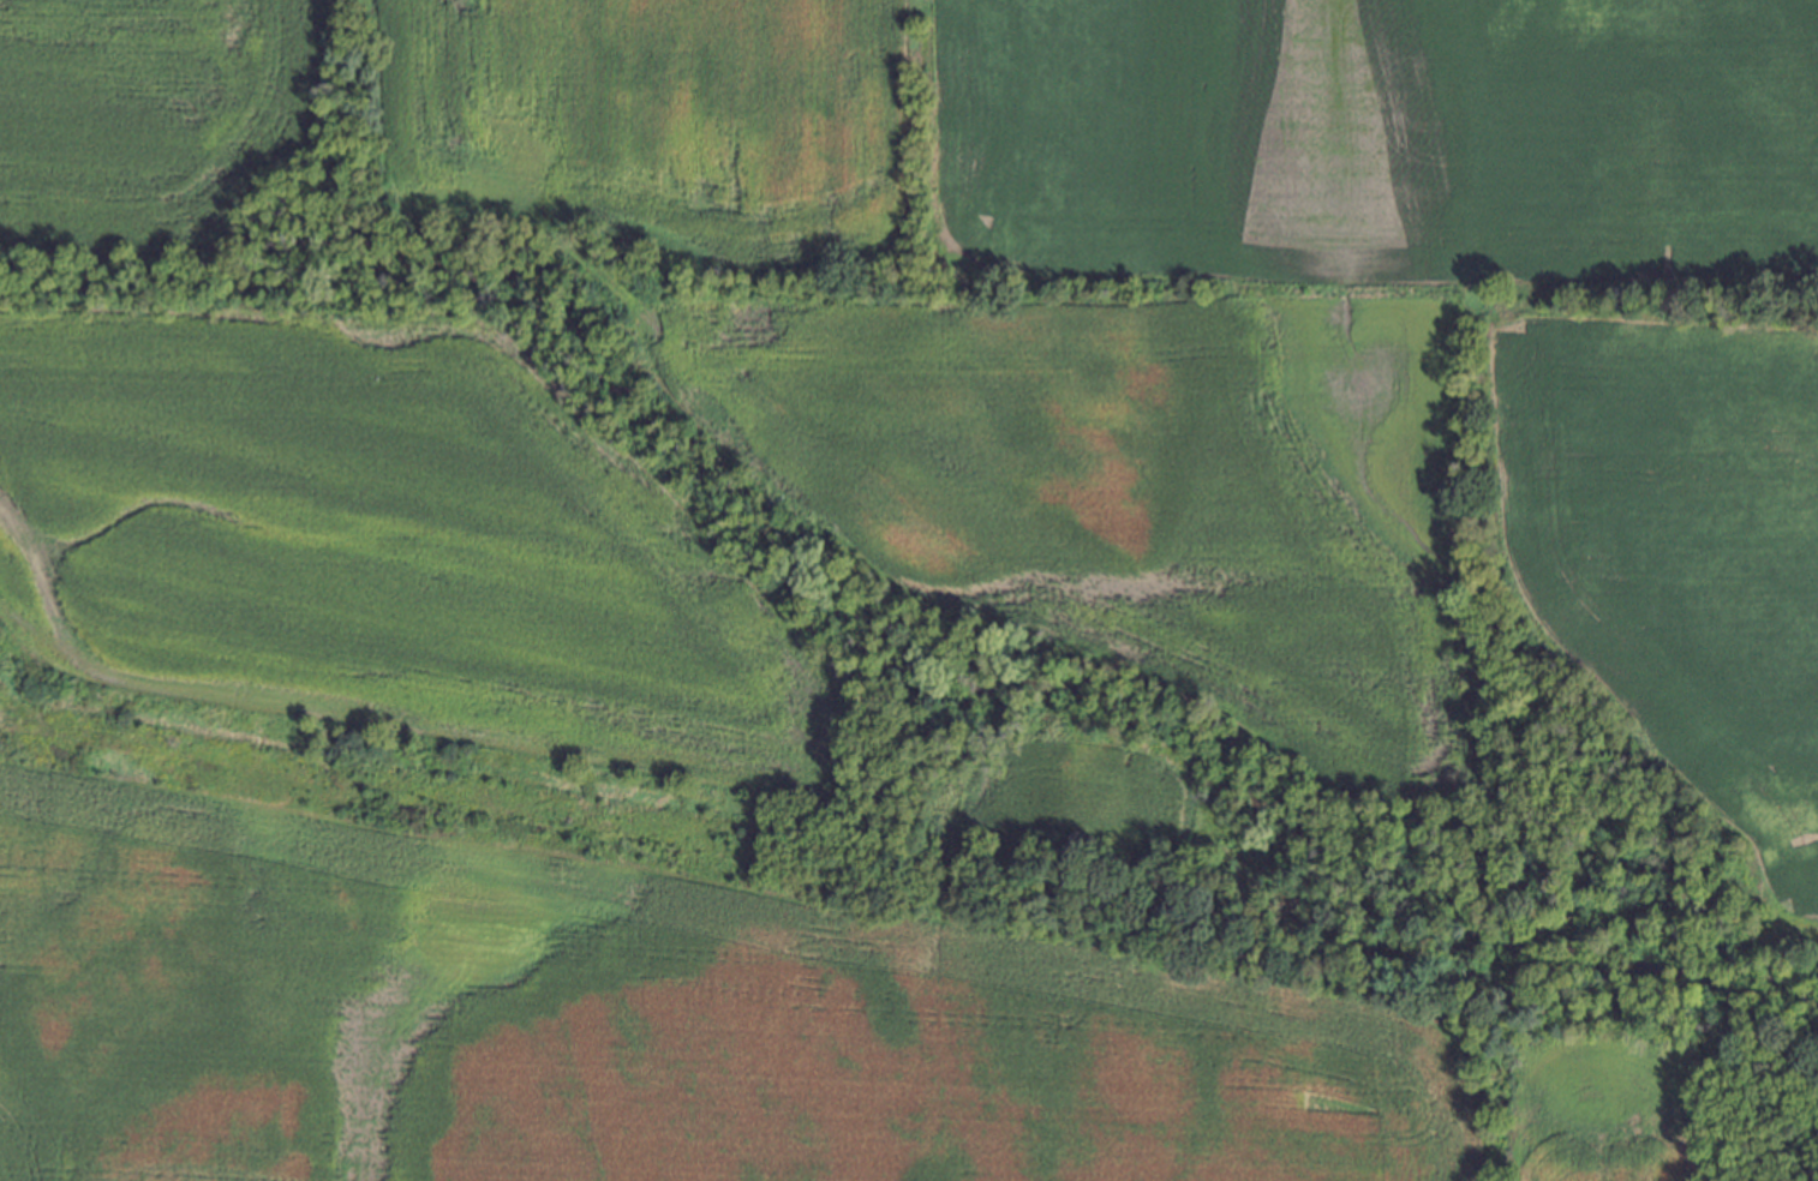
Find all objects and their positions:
river: (572, 336)
river: (1357, 863)
river: (1777, 987)

